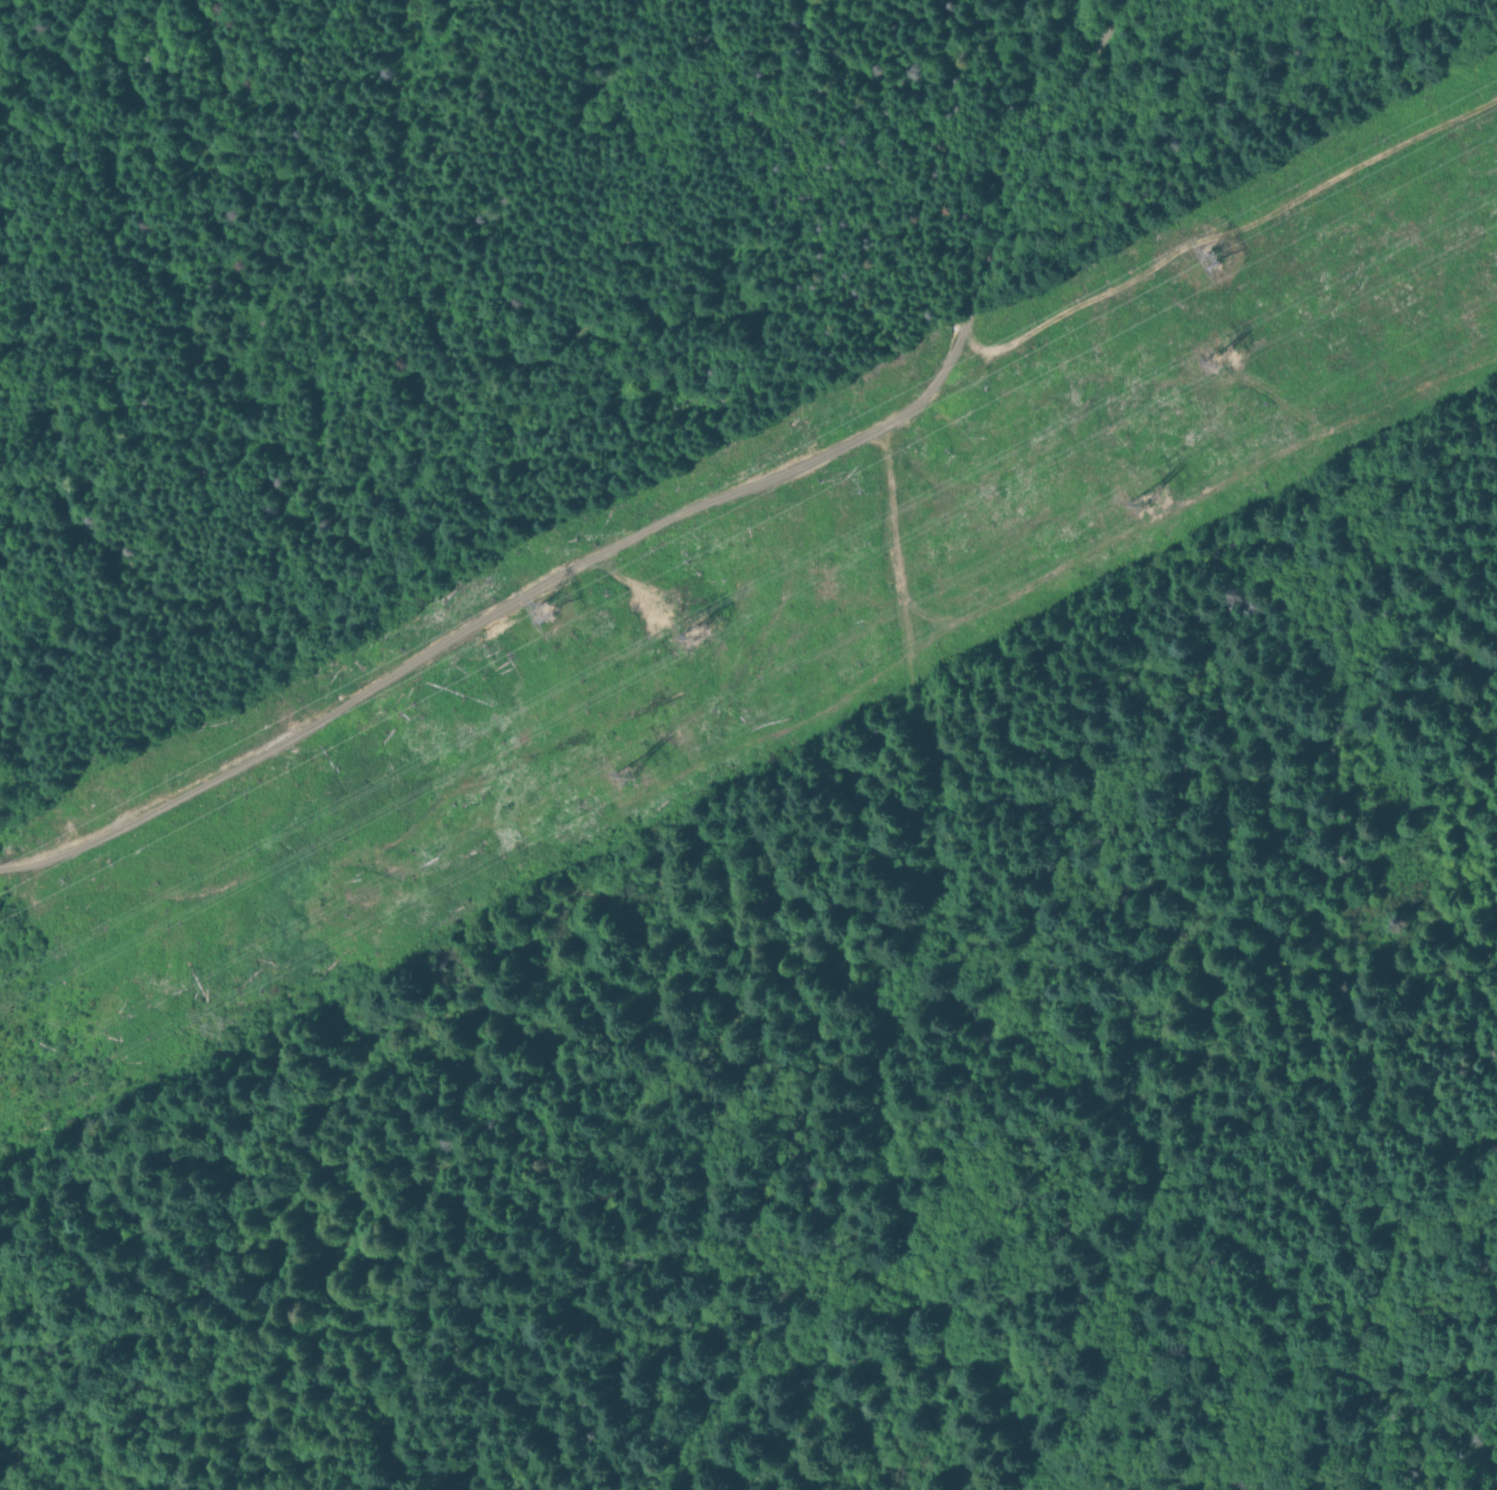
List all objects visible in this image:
road: (1211, 232)
power tower: (1209, 259)
power tower: (1213, 364)
power tower: (1147, 501)
road: (654, 522)
power tower: (546, 611)
power tower: (696, 635)
power tower: (629, 772)
road: (914, 1003)
road: (971, 1305)
road: (1161, 1401)

